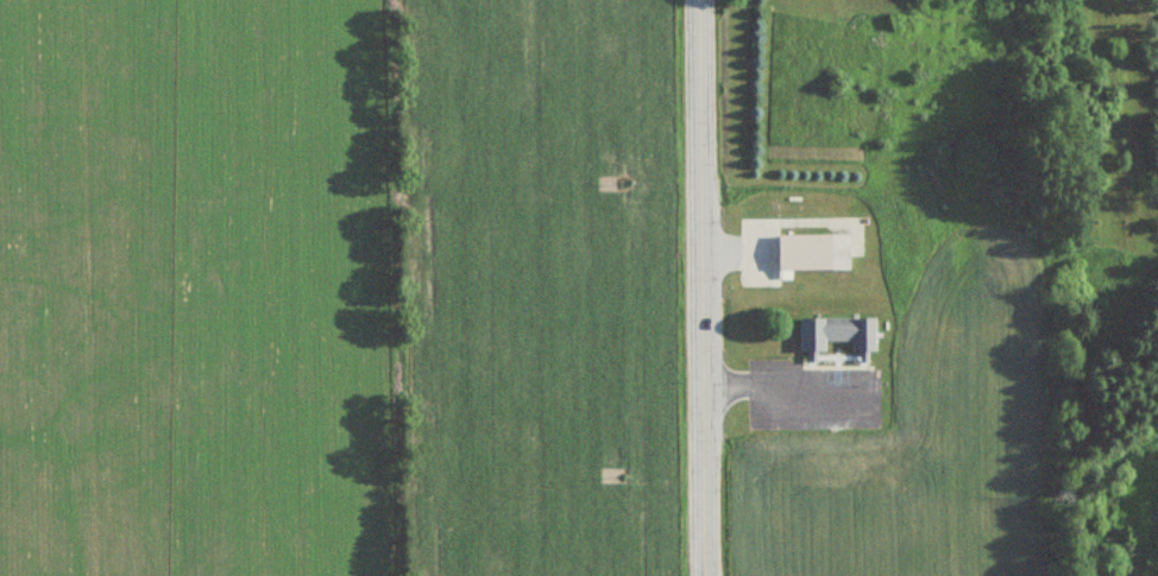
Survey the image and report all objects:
building: (813, 252)
road: (703, 287)
building: (836, 333)

